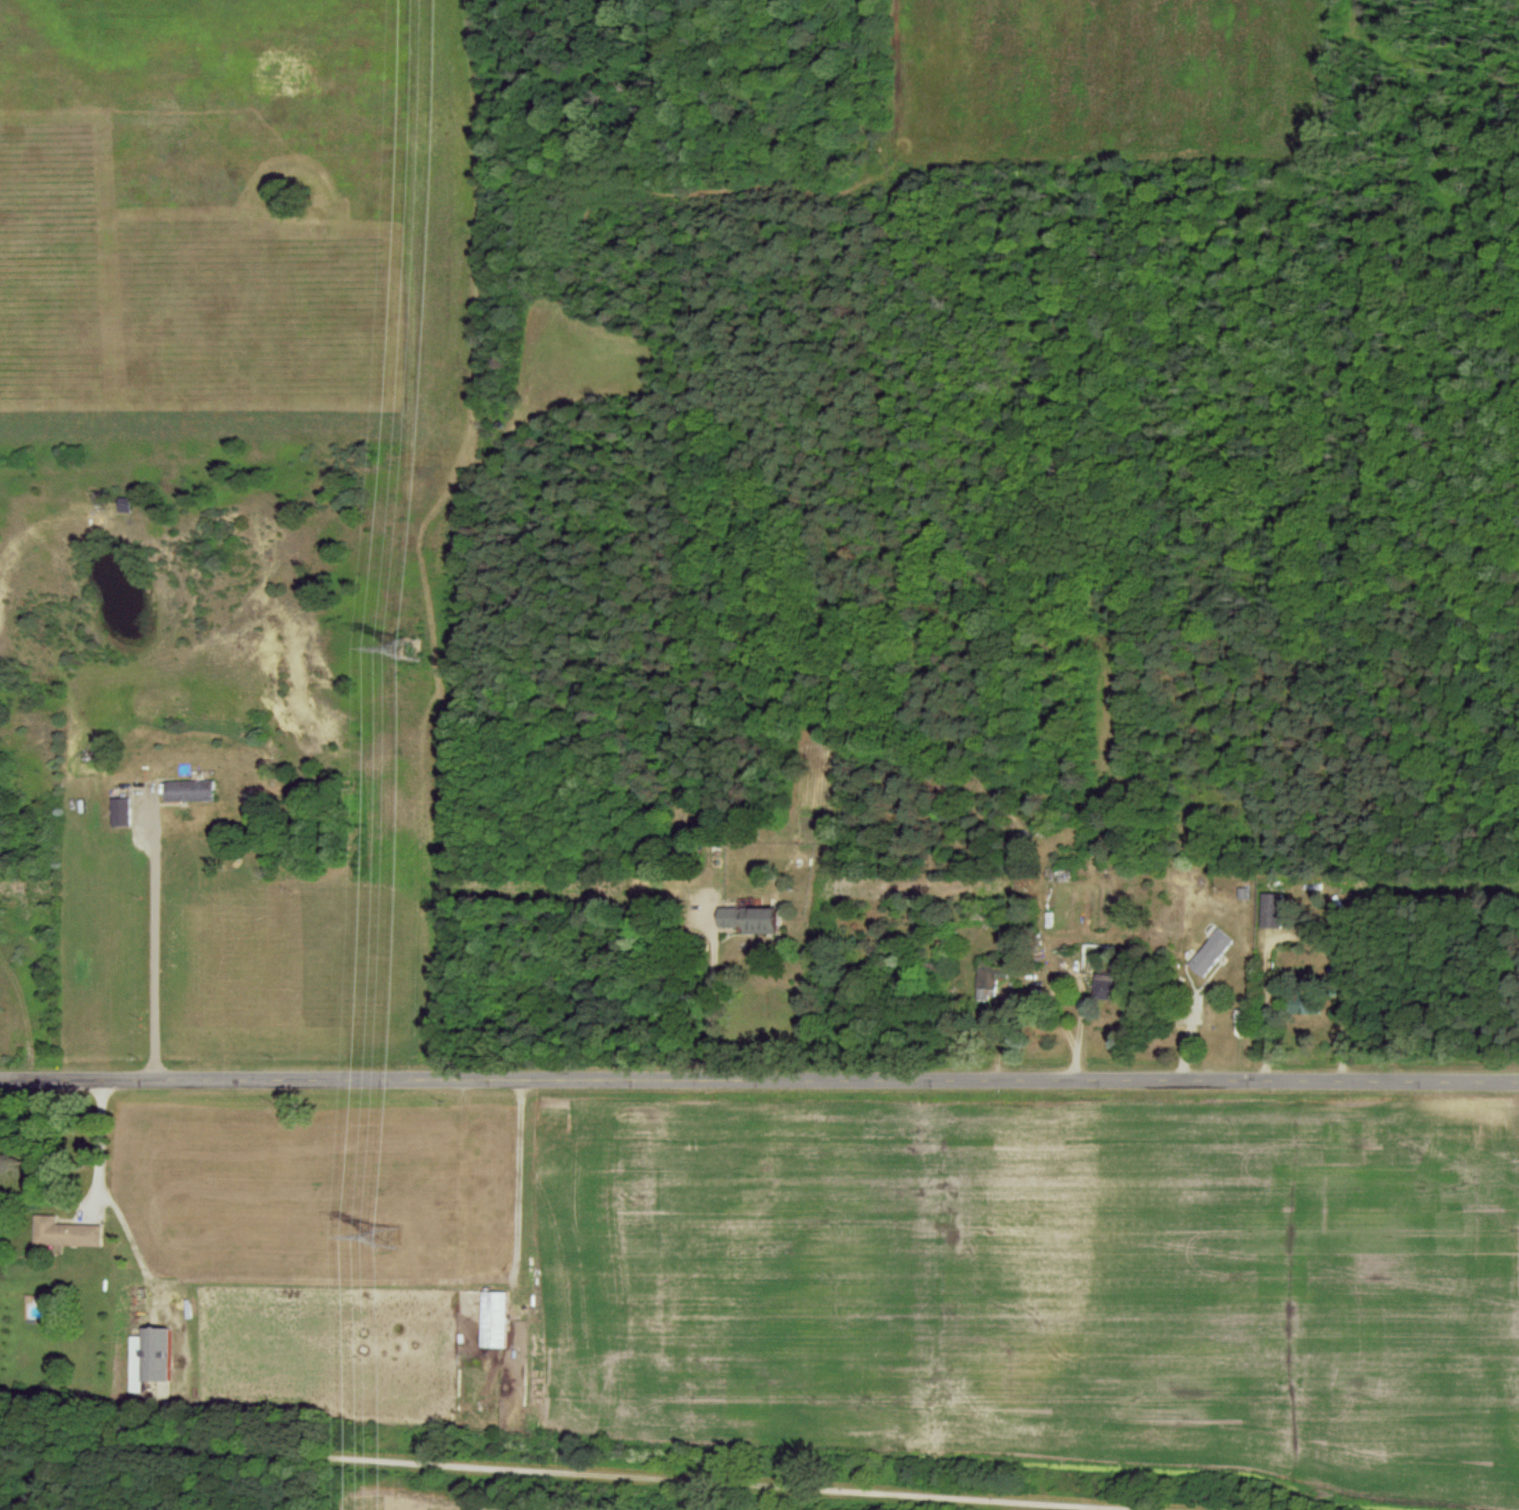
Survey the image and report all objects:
power tower: (413, 646)
building: (185, 790)
building: (117, 811)
building: (1268, 910)
building: (747, 919)
road: (153, 940)
building: (1207, 952)
building: (986, 982)
building: (1103, 986)
road: (709, 1006)
road: (1267, 1009)
road: (759, 1081)
road: (101, 1149)
building: (64, 1231)
power tower: (385, 1232)
building: (492, 1318)
building: (148, 1355)
road: (578, 1473)

